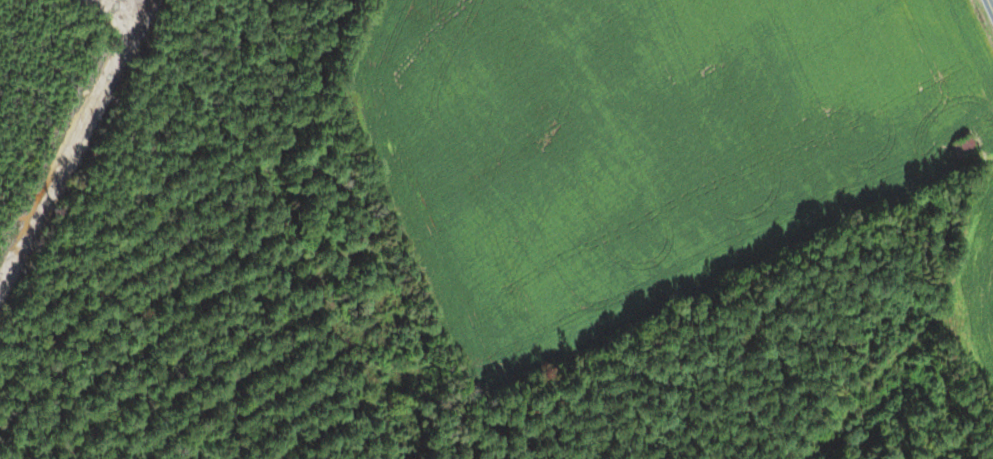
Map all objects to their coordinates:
road: (990, 4)
building: (965, 145)

